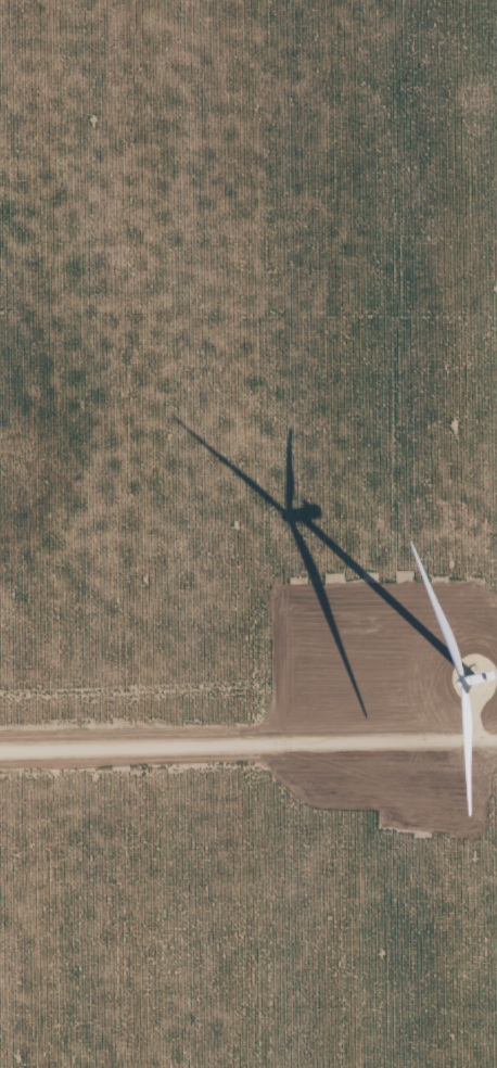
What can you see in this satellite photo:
wind turbine: (463, 679)

